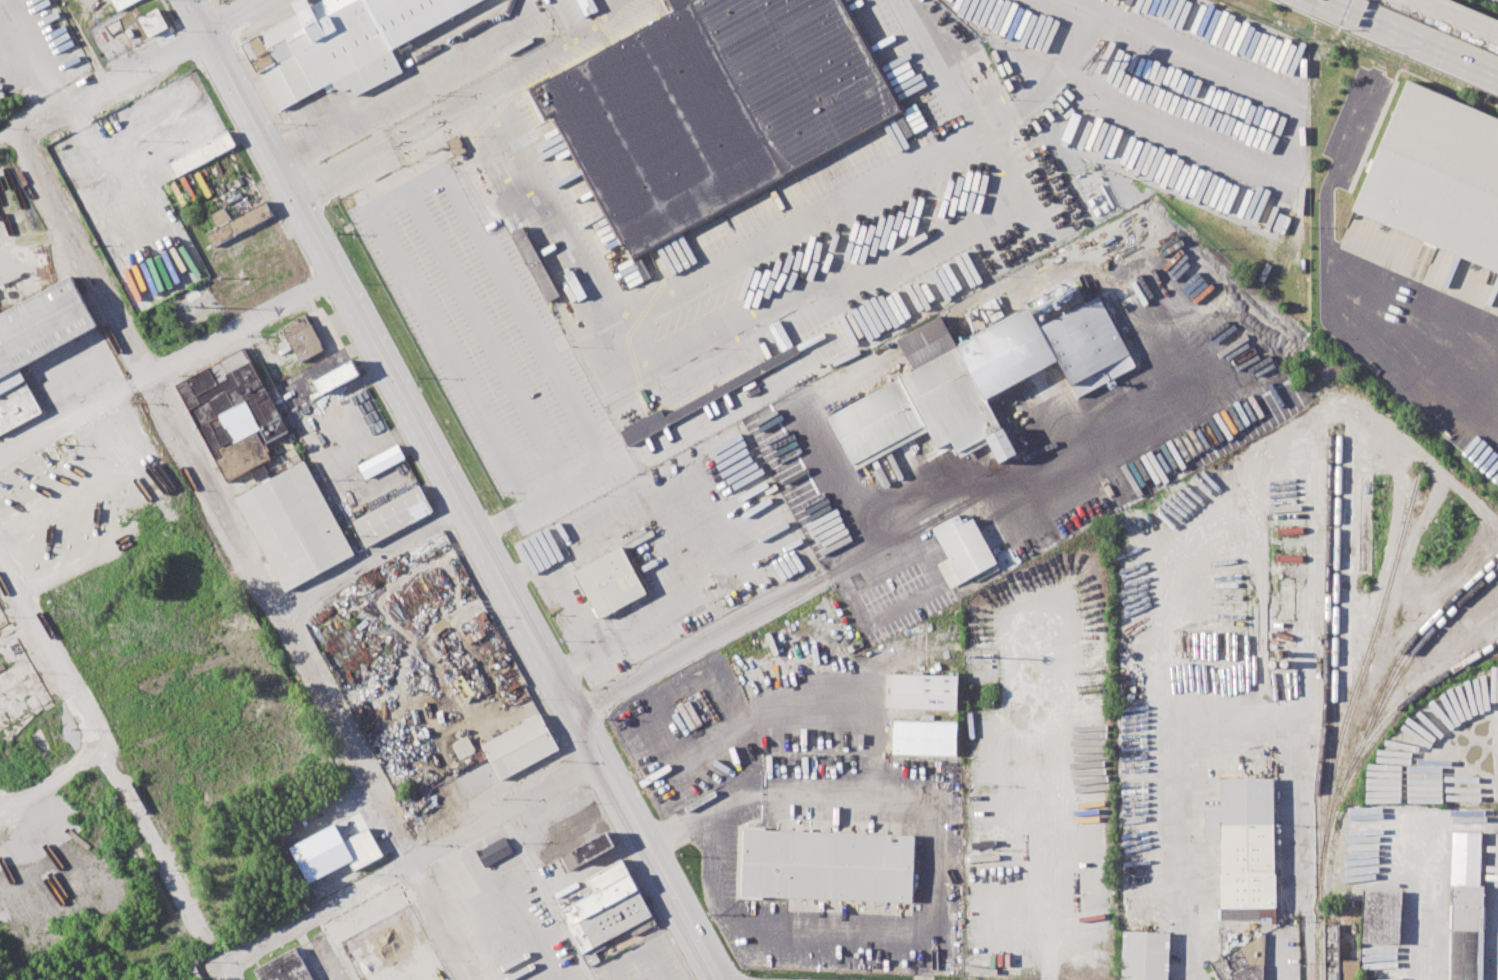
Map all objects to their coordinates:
wastewater plant: (1491, 2)
building: (120, 3)
road: (195, 15)
road: (230, 15)
road: (1454, 18)
building: (153, 21)
road: (1411, 36)
road: (1398, 42)
building: (343, 43)
parking lot: (29, 44)
road: (1386, 47)
road: (39, 53)
road: (1055, 76)
road: (113, 80)
road: (409, 91)
parking lot: (1181, 97)
building: (721, 108)
road: (387, 142)
building: (455, 146)
building: (202, 152)
building: (1437, 174)
building: (237, 220)
parking lot: (780, 243)
road: (245, 250)
road: (1331, 255)
road: (494, 264)
building: (536, 264)
road: (672, 295)
road: (246, 326)
parking lot: (1421, 328)
building: (302, 337)
road: (484, 337)
parking lot: (488, 340)
road: (330, 342)
building: (35, 343)
road: (448, 355)
road: (302, 374)
building: (335, 376)
building: (977, 380)
building: (233, 413)
road: (77, 414)
building: (651, 424)
road: (423, 436)
building: (383, 460)
parking lot: (129, 462)
road: (552, 494)
road: (965, 501)
building: (394, 516)
building: (296, 526)
building: (963, 549)
parking lot: (664, 552)
road: (246, 556)
road: (368, 560)
building: (611, 581)
road: (709, 640)
railway: (1335, 640)
railway: (1413, 640)
railway: (1403, 666)
railway: (1453, 669)
building: (924, 691)
railway: (1325, 705)
road: (1259, 709)
building: (925, 737)
building: (520, 746)
building: (463, 747)
road: (106, 749)
road: (694, 756)
parking lot: (1038, 770)
road: (1047, 791)
railway: (1339, 792)
building: (574, 821)
parking lot: (798, 827)
building: (582, 835)
road: (1183, 845)
building: (1245, 845)
building: (593, 848)
building: (494, 850)
building: (335, 851)
road: (414, 861)
building: (828, 864)
building: (608, 875)
road: (933, 876)
road: (1303, 878)
road: (545, 897)
building: (600, 899)
road: (1426, 899)
building: (1464, 908)
road: (683, 910)
building: (1380, 916)
building: (611, 924)
building: (1331, 951)
building: (1145, 955)
building: (1241, 961)
building: (286, 967)
building: (1347, 970)
road: (229, 972)

